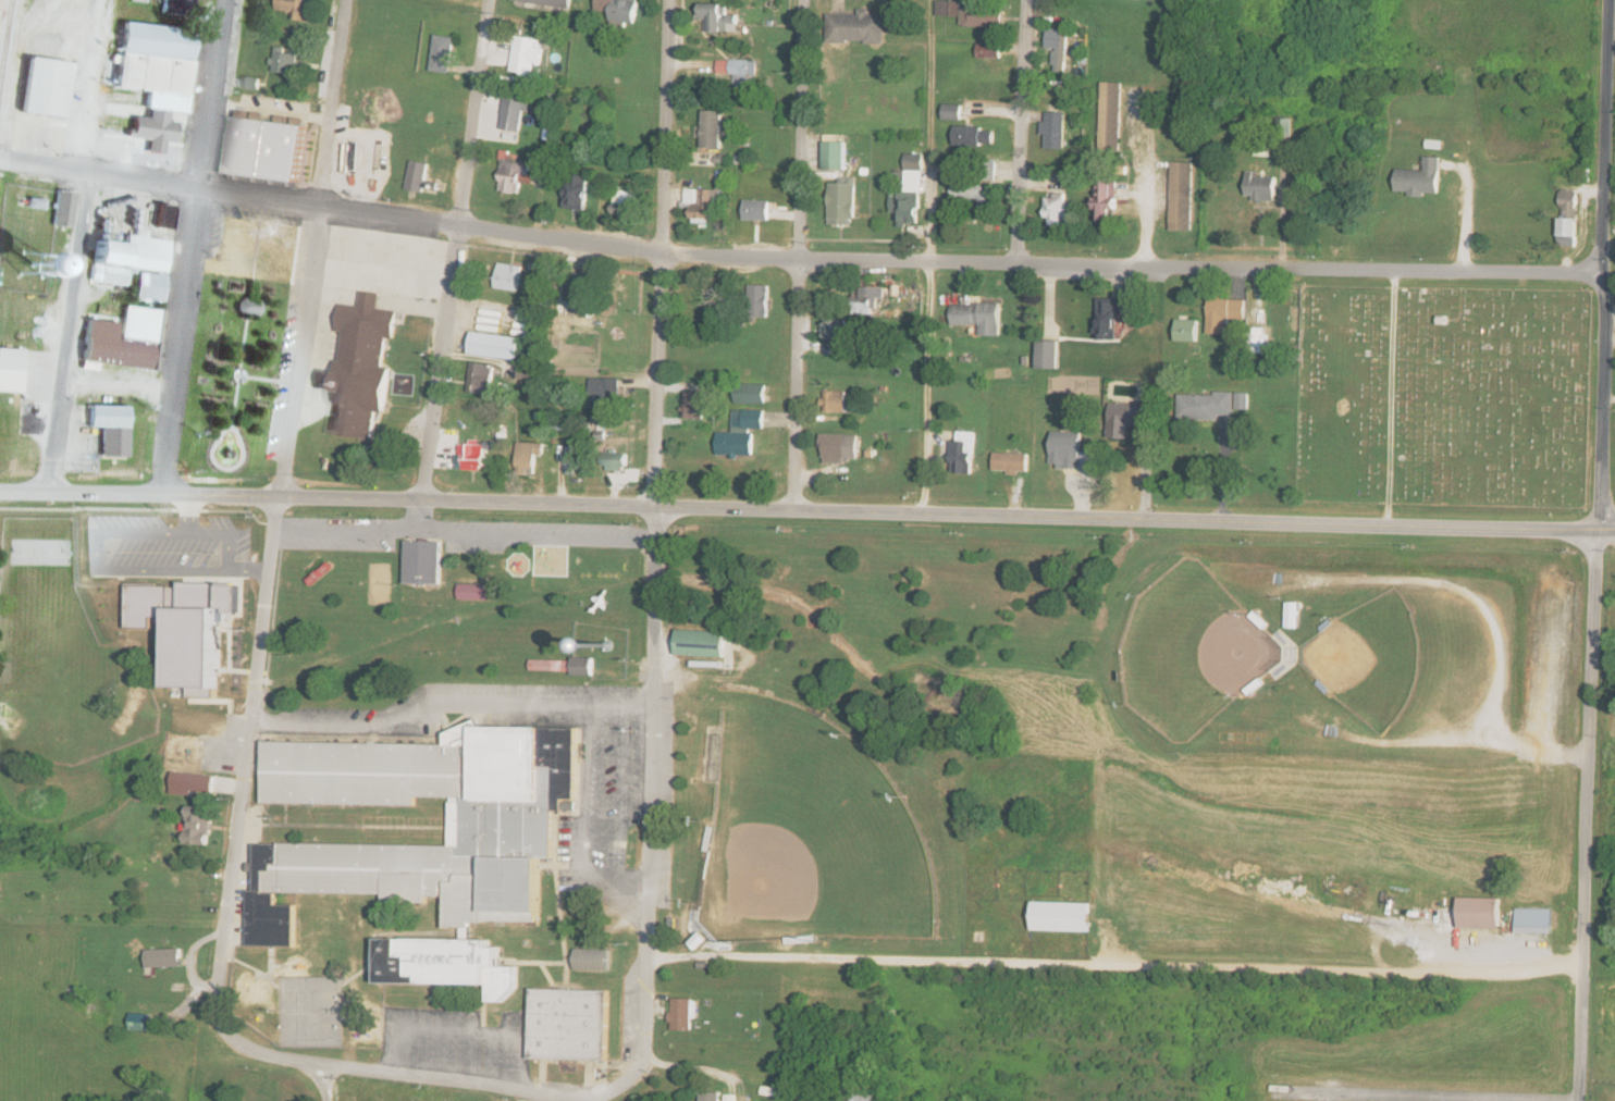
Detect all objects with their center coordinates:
building: (138, 1)
building: (550, 3)
building: (176, 7)
building: (948, 8)
building: (297, 9)
building: (621, 10)
building: (982, 16)
building: (718, 17)
building: (856, 27)
railway: (7, 42)
building: (1058, 48)
building: (989, 50)
building: (443, 53)
building: (526, 55)
building: (284, 61)
building: (739, 70)
building: (155, 78)
building: (250, 83)
building: (45, 88)
building: (953, 111)
building: (514, 112)
building: (1111, 116)
building: (713, 129)
building: (1055, 129)
road: (1024, 132)
building: (975, 136)
building: (269, 149)
building: (835, 156)
building: (417, 176)
building: (1420, 178)
road: (1144, 184)
building: (1261, 187)
building: (578, 191)
building: (910, 194)
building: (976, 194)
building: (1182, 196)
building: (843, 201)
building: (1107, 201)
building: (702, 203)
building: (626, 205)
building: (62, 209)
building: (757, 210)
building: (1057, 210)
building: (1568, 218)
road: (1460, 226)
road: (189, 245)
road: (75, 246)
road: (313, 247)
road: (453, 248)
road: (661, 253)
building: (125, 258)
road: (802, 258)
road: (796, 262)
building: (32, 271)
building: (508, 276)
building: (148, 287)
building: (581, 288)
building: (866, 299)
building: (760, 300)
building: (247, 307)
building: (1225, 313)
building: (1112, 316)
building: (978, 317)
building: (837, 330)
building: (1187, 330)
building: (1260, 337)
building: (124, 341)
building: (497, 346)
building: (1048, 355)
building: (360, 368)
building: (10, 370)
building: (530, 372)
building: (481, 379)
building: (605, 393)
building: (751, 393)
park: (1442, 397)
road: (1391, 398)
building: (835, 400)
building: (1242, 400)
building: (694, 405)
building: (1205, 406)
building: (1127, 419)
building: (110, 430)
building: (741, 434)
building: (840, 447)
building: (389, 448)
building: (1071, 451)
building: (962, 454)
building: (470, 456)
building: (528, 457)
building: (574, 460)
building: (617, 461)
building: (1011, 462)
road: (806, 516)
road: (418, 517)
road: (461, 536)
road: (1594, 549)
building: (423, 562)
road: (1448, 590)
building: (476, 592)
building: (1291, 615)
building: (185, 627)
building: (701, 644)
park: (1189, 652)
park: (1366, 656)
building: (551, 664)
building: (583, 665)
road: (1433, 742)
road: (247, 754)
building: (190, 779)
road: (650, 806)
building: (198, 824)
park: (807, 834)
building: (399, 869)
building: (1481, 912)
building: (1062, 915)
building: (1534, 919)
road: (1482, 938)
building: (700, 939)
building: (164, 956)
building: (594, 958)
road: (1101, 962)
building: (683, 1012)
building: (140, 1020)
building: (570, 1023)
road: (404, 1067)
road: (328, 1081)
building: (867, 1091)
road: (1381, 1094)
building: (711, 1096)

